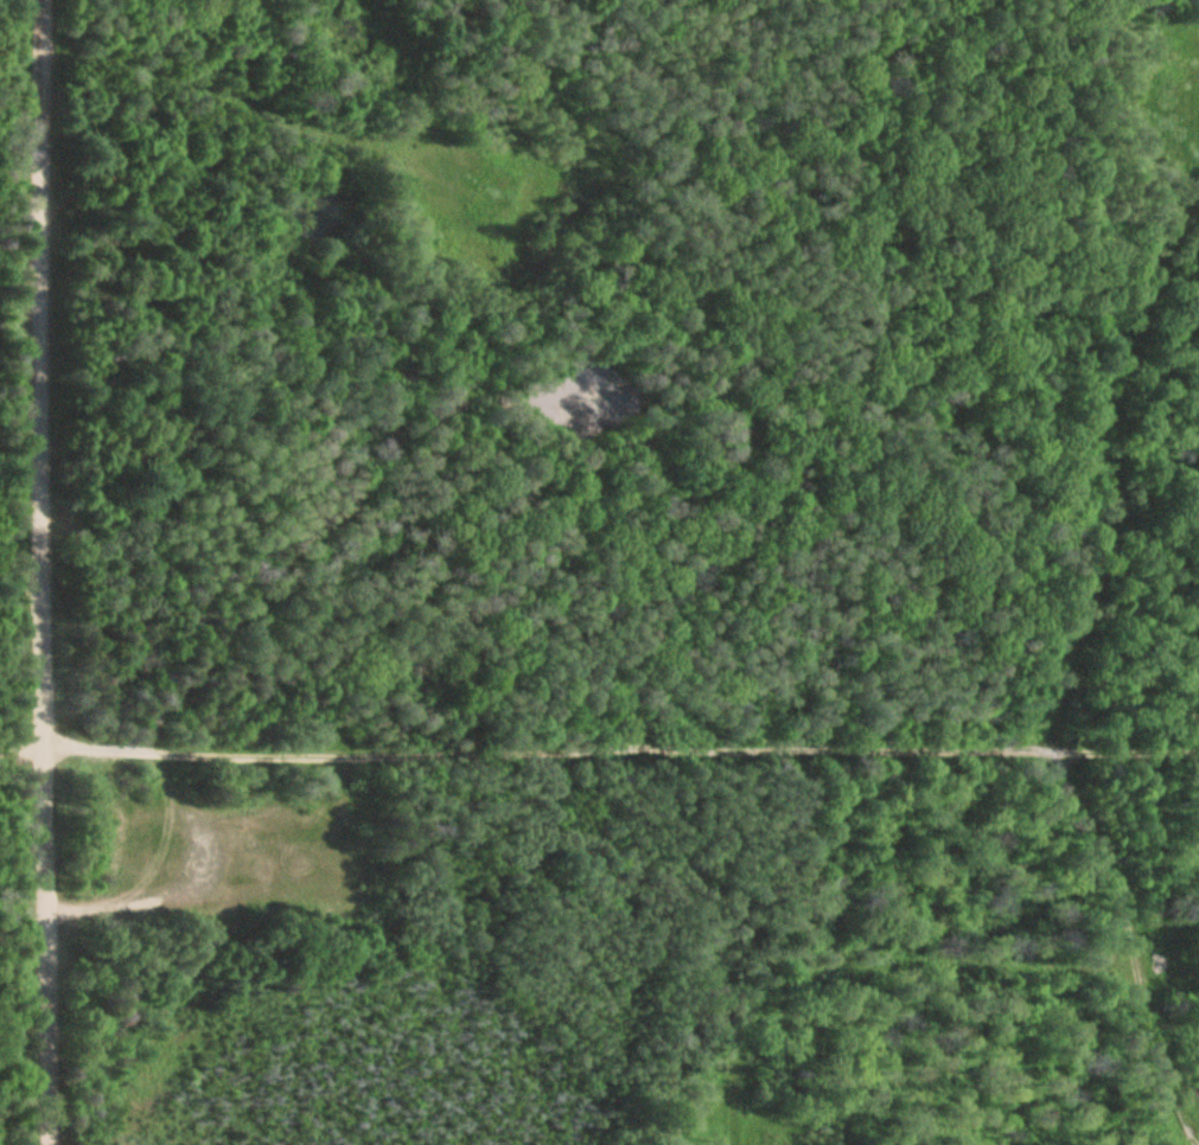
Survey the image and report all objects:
road: (45, 571)
road: (621, 746)
road: (23, 748)

